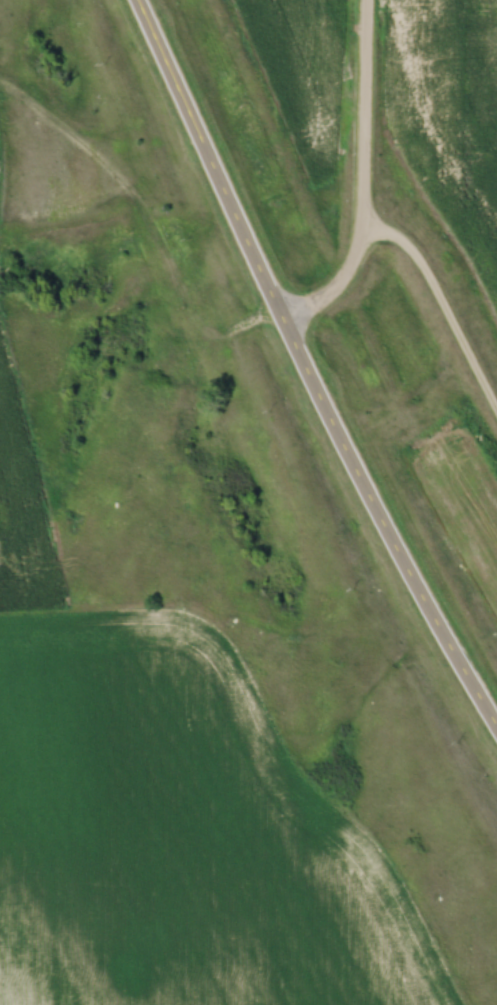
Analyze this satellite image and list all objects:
road: (398, 210)
road: (307, 367)

